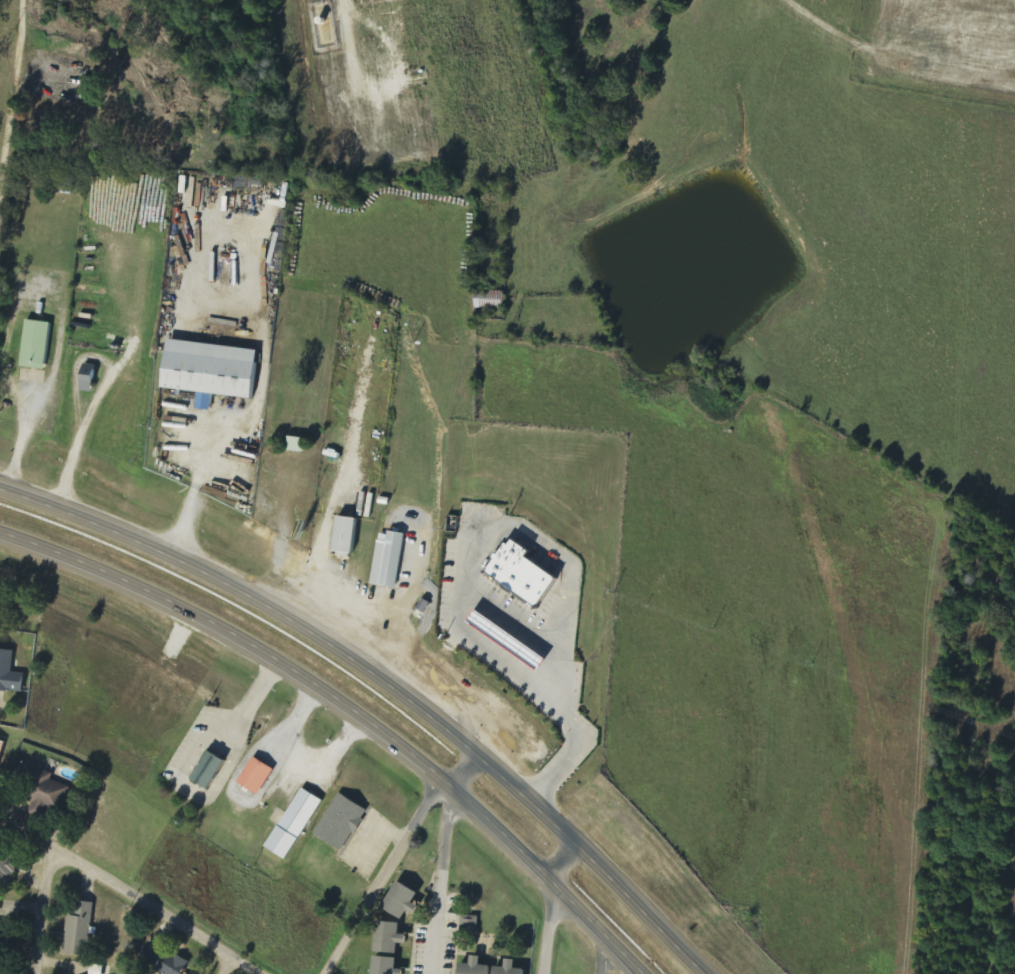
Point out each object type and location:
road: (13, 124)
building: (35, 345)
building: (209, 371)
building: (295, 445)
building: (343, 536)
road: (463, 548)
building: (387, 560)
building: (518, 574)
building: (504, 641)
building: (11, 673)
road: (383, 678)
road: (348, 712)
building: (2, 753)
building: (214, 770)
road: (460, 772)
building: (260, 775)
building: (54, 793)
building: (344, 821)
building: (298, 823)
road: (383, 880)
road: (132, 894)
building: (408, 899)
road: (553, 905)
building: (1, 906)
road: (42, 911)
building: (473, 924)
building: (78, 936)
building: (394, 937)
road: (606, 959)
building: (166, 960)
building: (390, 965)
building: (496, 968)

